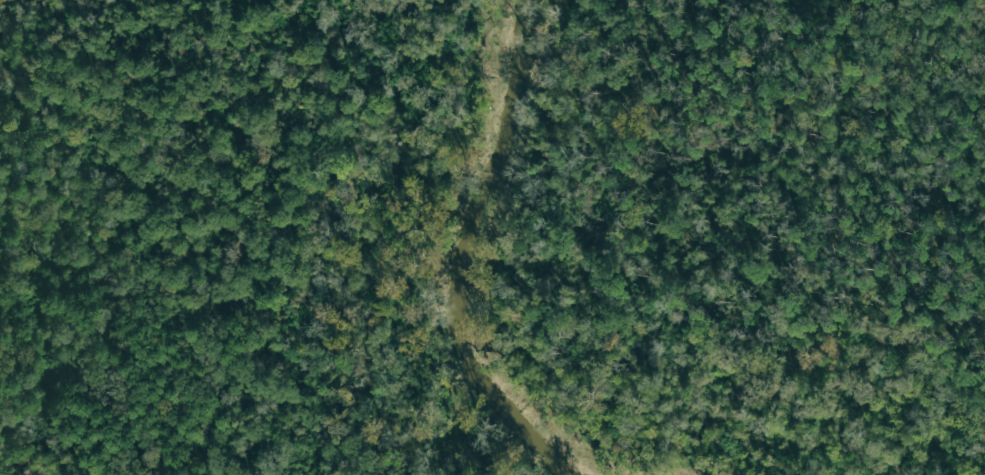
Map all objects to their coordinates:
park: (661, 237)
river: (441, 266)

